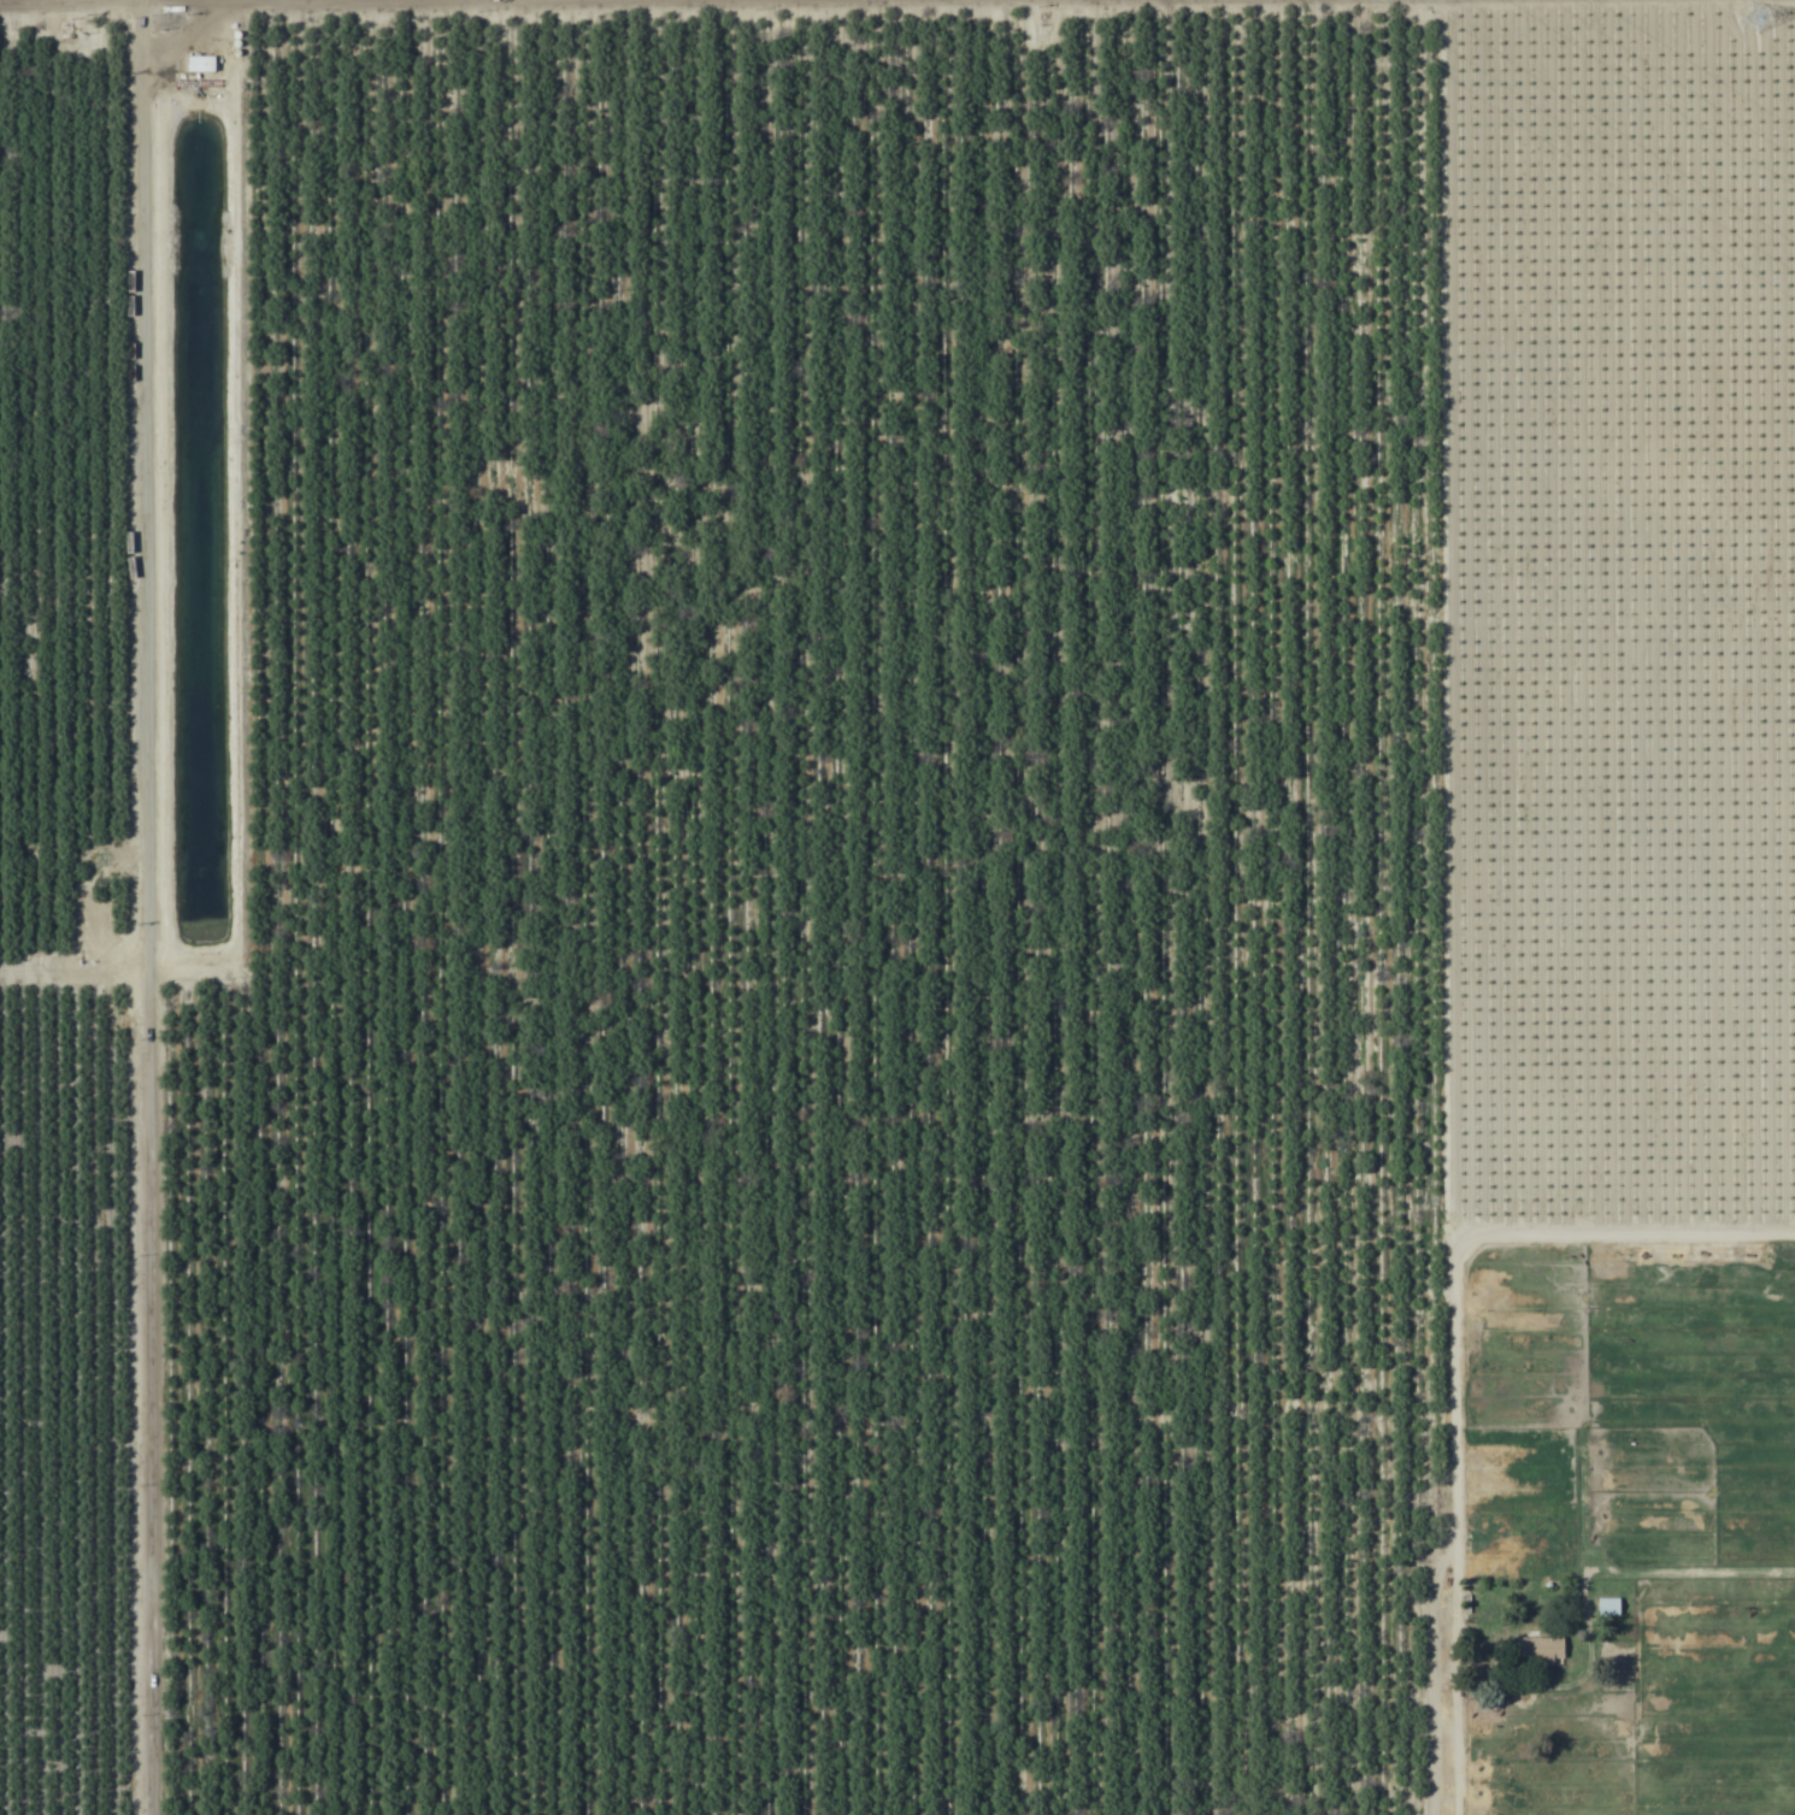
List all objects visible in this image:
power tower: (1753, 17)
road: (78, 37)
road: (148, 907)
crop: (897, 907)
building: (1607, 1607)
building: (1540, 1651)

